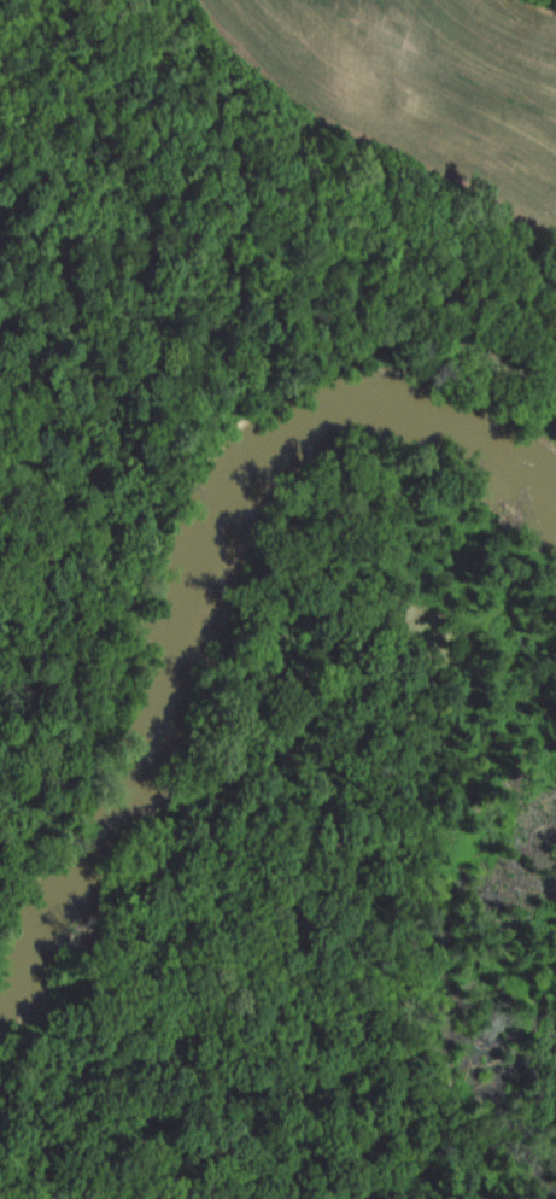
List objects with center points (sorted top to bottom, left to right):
river: (227, 572)

